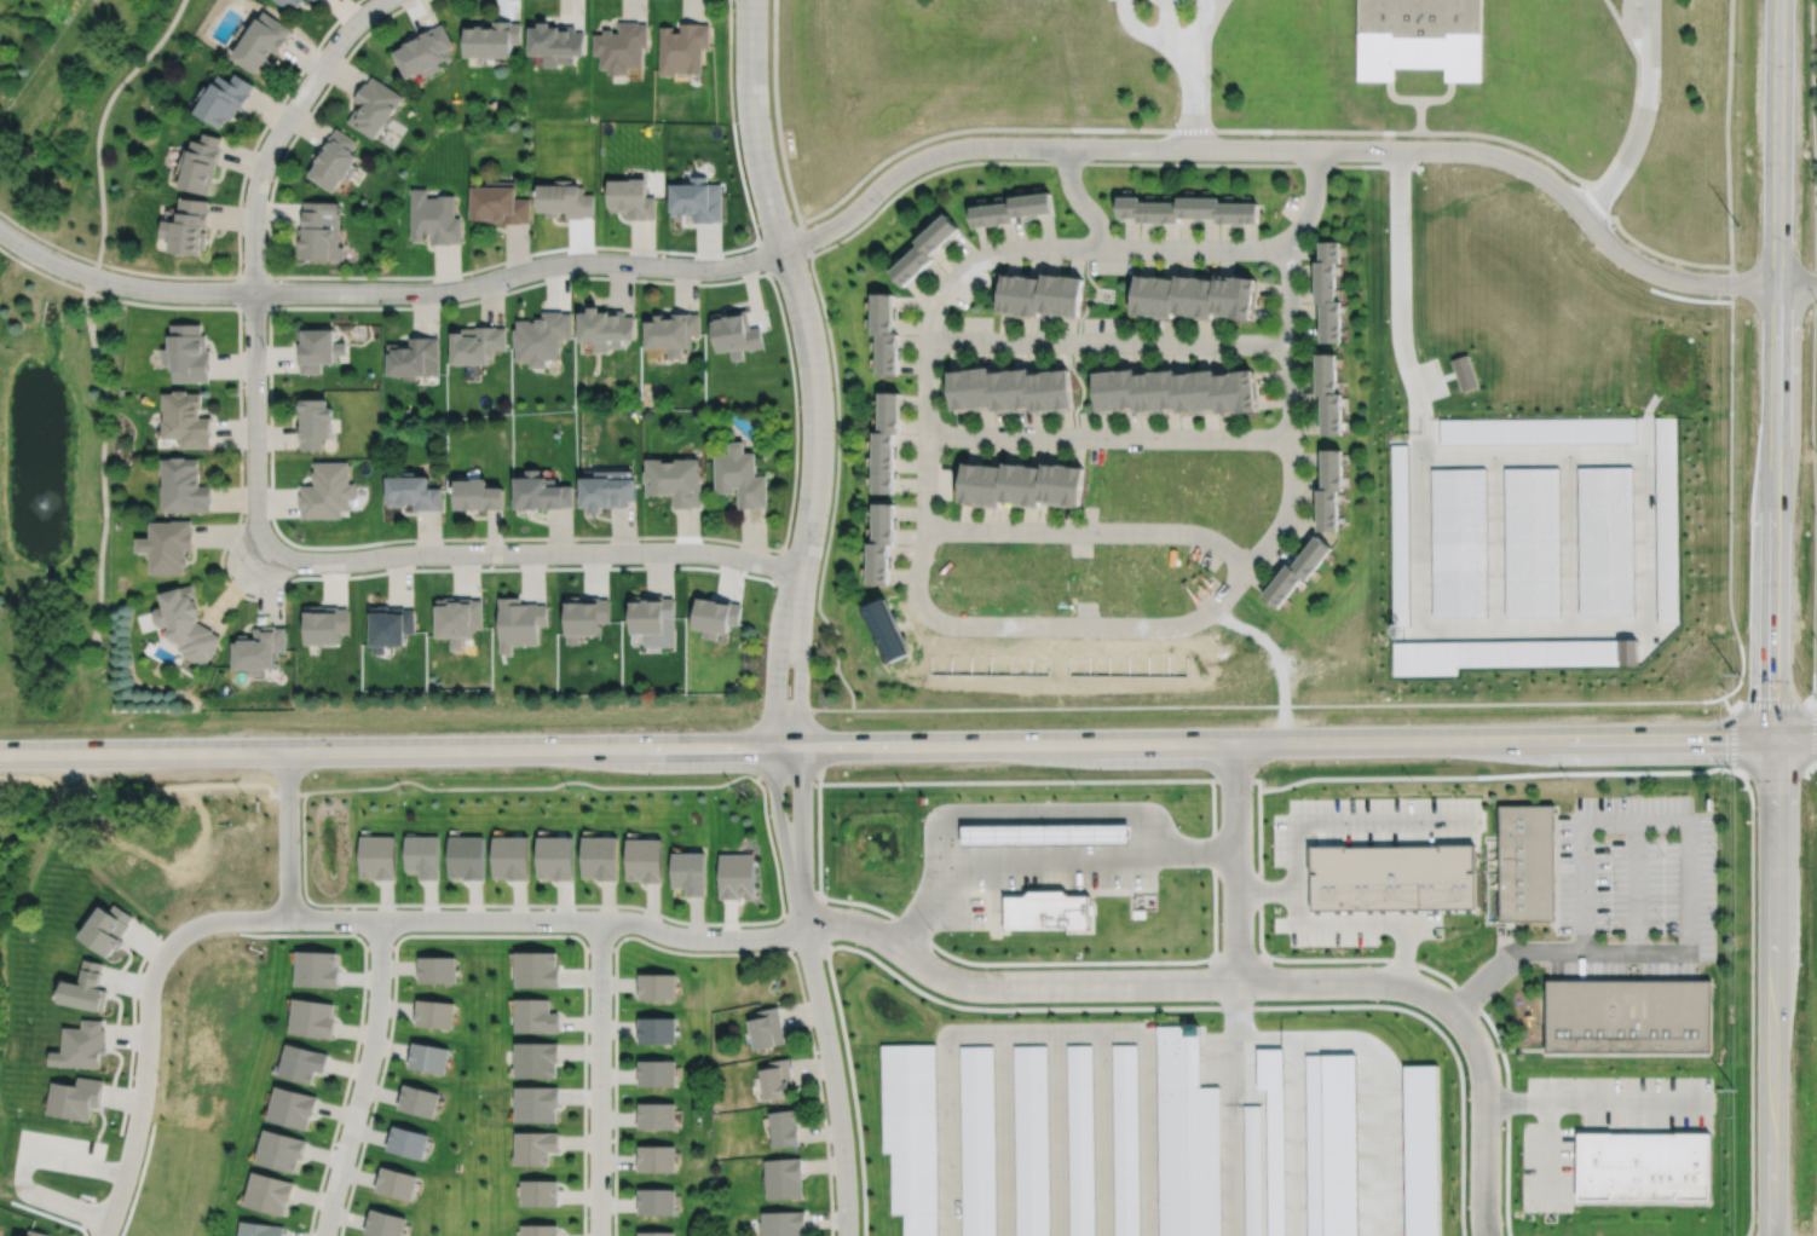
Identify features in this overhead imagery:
building: (315, 0)
road: (380, 2)
parking lot: (1169, 2)
building: (289, 4)
road: (1169, 5)
road: (1219, 5)
road: (1223, 5)
street lamp: (732, 7)
road: (1616, 17)
road: (1627, 17)
road: (1199, 34)
building: (490, 37)
building: (1418, 37)
road: (1152, 40)
building: (555, 42)
road: (1175, 42)
building: (261, 45)
street lamp: (322, 46)
building: (621, 46)
building: (683, 47)
building: (422, 51)
road: (1207, 68)
street lamp: (1211, 92)
road: (1397, 99)
road: (1441, 99)
building: (224, 100)
building: (373, 106)
road: (1192, 109)
road: (1420, 116)
road: (1645, 117)
road: (1631, 119)
street lamp: (736, 122)
road: (102, 125)
road: (1316, 131)
road: (1727, 133)
road: (1509, 140)
street lamp: (256, 149)
road: (1286, 149)
street lamp: (1016, 158)
building: (333, 160)
road: (884, 160)
street lamp: (1161, 160)
street lamp: (1276, 161)
road: (1101, 162)
street lamp: (1455, 162)
building: (200, 166)
building: (630, 198)
building: (564, 200)
building: (697, 200)
road: (1079, 200)
street lamp: (882, 202)
building: (498, 203)
building: (1013, 209)
building: (1188, 209)
building: (433, 218)
building: (186, 227)
street lamp: (1385, 229)
building: (318, 232)
street lamp: (1582, 232)
road: (803, 239)
road: (238, 246)
road: (1079, 247)
road: (1645, 248)
building: (924, 249)
street lamp: (12, 253)
road: (763, 256)
road: (254, 265)
road: (469, 270)
road: (269, 276)
street lamp: (640, 276)
street lamp: (276, 279)
street lamp: (773, 279)
road: (794, 283)
road: (1796, 283)
street lamp: (508, 288)
building: (1328, 290)
road: (388, 291)
building: (1040, 294)
street lamp: (1718, 295)
building: (1193, 296)
street lamp: (129, 298)
street lamp: (381, 304)
street lamp: (1386, 319)
building: (605, 329)
building: (671, 333)
building: (736, 334)
building: (883, 335)
building: (540, 339)
road: (1109, 342)
building: (475, 345)
road: (1813, 346)
building: (316, 351)
park: (67, 352)
building: (186, 354)
building: (413, 359)
road: (1776, 369)
building: (1465, 370)
parking lot: (1430, 379)
street lamp: (242, 382)
building: (1008, 391)
building: (1175, 393)
building: (1329, 393)
street lamp: (798, 405)
road: (1291, 414)
building: (184, 421)
building: (311, 424)
building: (1539, 429)
road: (1108, 438)
building: (884, 445)
road: (103, 456)
building: (740, 478)
road: (925, 480)
building: (1022, 481)
road: (1729, 481)
building: (675, 483)
building: (183, 484)
road: (835, 486)
building: (1169, 487)
building: (1332, 489)
building: (325, 492)
building: (607, 492)
building: (411, 495)
building: (540, 495)
building: (475, 496)
street lamp: (243, 516)
building: (1667, 519)
road: (1091, 531)
road: (786, 533)
building: (1398, 535)
building: (1605, 539)
building: (1532, 541)
road: (1568, 541)
building: (1458, 542)
road: (1492, 542)
building: (166, 543)
building: (879, 544)
road: (529, 553)
street lamp: (685, 562)
street lamp: (555, 564)
street lamp: (425, 566)
building: (1297, 572)
street lamp: (295, 574)
building: (1003, 579)
building: (1143, 582)
street lamp: (774, 589)
road: (252, 597)
building: (586, 614)
building: (652, 614)
building: (717, 614)
building: (458, 617)
building: (520, 620)
building: (185, 622)
building: (324, 623)
building: (390, 625)
road: (1042, 625)
road: (1490, 629)
building: (258, 647)
building: (1506, 654)
road: (777, 655)
road: (801, 658)
road: (90, 665)
road: (1816, 693)
street lamp: (761, 697)
street lamp: (809, 697)
road: (1268, 705)
road: (1773, 707)
traffic signals: (1773, 740)
road: (1795, 740)
road: (1286, 741)
road: (400, 752)
road: (1176, 779)
road: (762, 792)
road: (1349, 818)
road: (1634, 819)
building: (1045, 834)
road: (289, 836)
road: (802, 837)
road: (781, 838)
building: (425, 855)
building: (379, 856)
building: (467, 856)
building: (555, 856)
building: (512, 857)
building: (600, 857)
road: (1044, 857)
building: (645, 860)
road: (1236, 862)
building: (1524, 862)
building: (688, 872)
building: (737, 874)
building: (1394, 877)
parking lot: (1623, 878)
parking lot: (1049, 882)
road: (1634, 884)
road: (1265, 890)
building: (1492, 906)
building: (1046, 911)
gas station: (1046, 911)
road: (548, 919)
road: (1346, 924)
building: (106, 929)
road: (1558, 948)
road: (698, 953)
road: (1402, 954)
building: (317, 969)
building: (438, 969)
building: (537, 969)
road: (898, 976)
road: (1348, 982)
building: (658, 986)
road: (1010, 986)
road: (1771, 987)
building: (86, 988)
crop: (1801, 998)
street lamp: (1256, 1000)
building: (434, 1013)
building: (536, 1016)
building: (1627, 1017)
building: (312, 1018)
road: (148, 1027)
building: (767, 1028)
building: (658, 1030)
road: (1045, 1030)
building: (82, 1045)
building: (429, 1057)
building: (537, 1058)
building: (302, 1063)
building: (657, 1073)
road: (599, 1078)
road: (364, 1079)
building: (777, 1079)
road: (833, 1080)
building: (74, 1097)
road: (1594, 1099)
building: (419, 1101)
building: (536, 1103)
building: (292, 1107)
road: (1231, 1109)
building: (657, 1116)
road: (1484, 1119)
building: (784, 1128)
building: (912, 1134)
building: (1273, 1137)
building: (1188, 1138)
building: (1032, 1140)
building: (1081, 1140)
building: (1125, 1140)
building: (408, 1142)
building: (977, 1142)
building: (1331, 1145)
building: (535, 1147)
building: (281, 1150)
building: (1421, 1150)
building: (658, 1159)
building: (1646, 1168)
building: (1253, 1171)
building: (784, 1179)
building: (397, 1183)
building: (270, 1192)
building: (541, 1194)
building: (657, 1201)
building: (783, 1223)
building: (385, 1224)
building: (260, 1229)
building: (541, 1230)
building: (657, 1234)

